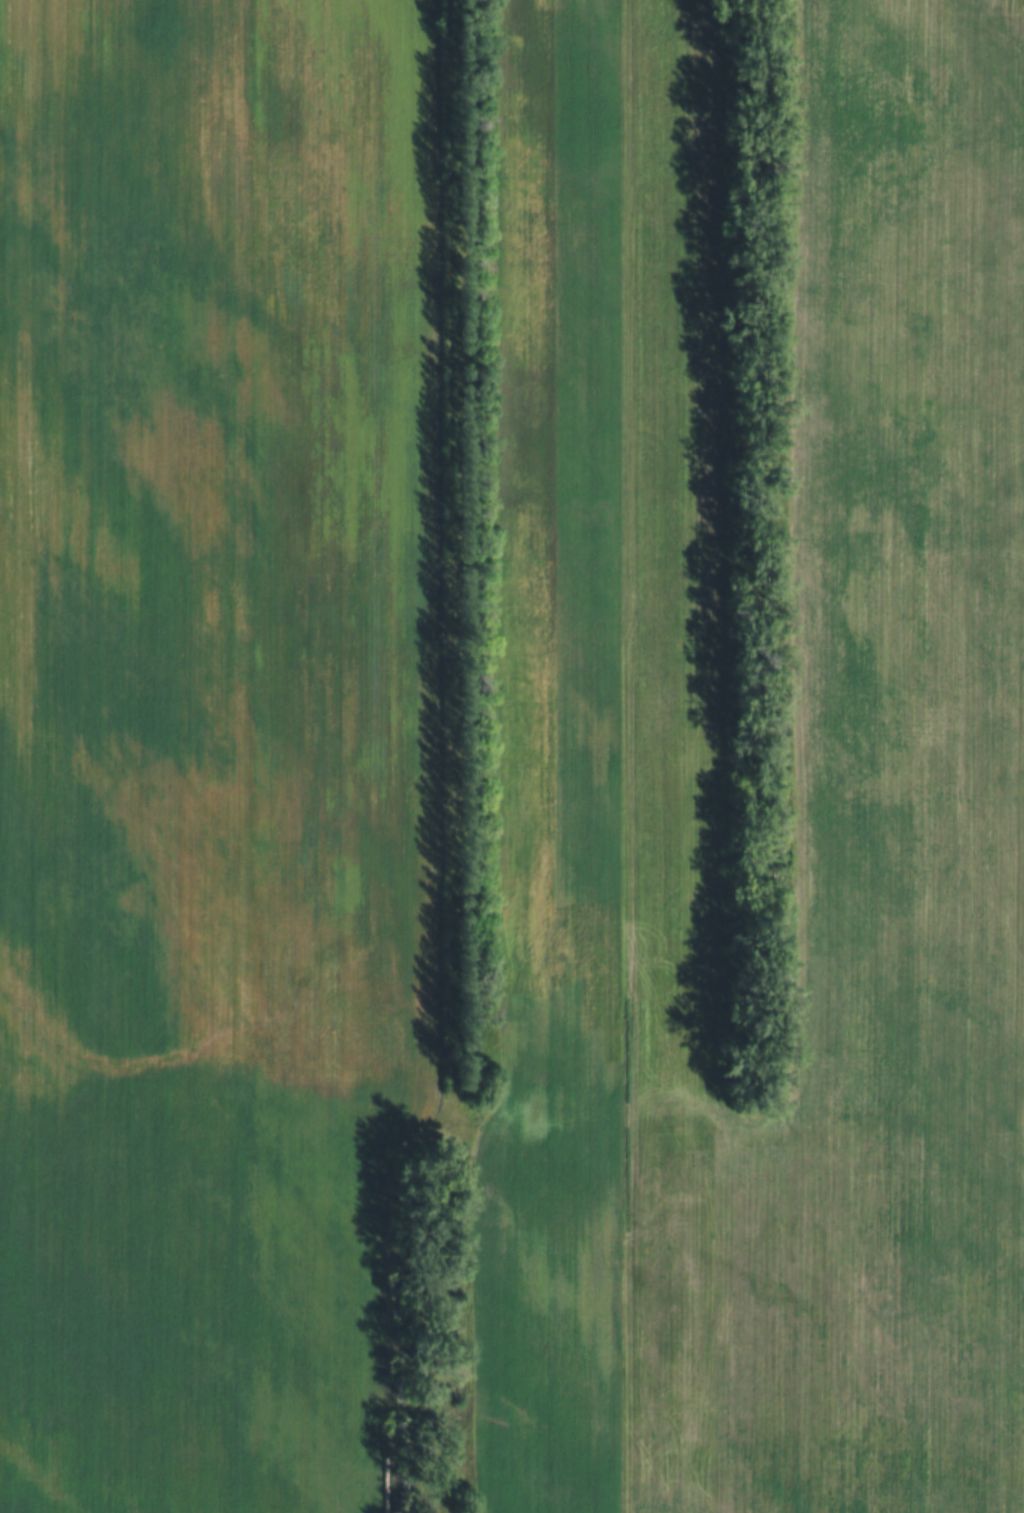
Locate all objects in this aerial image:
road: (919, 756)

